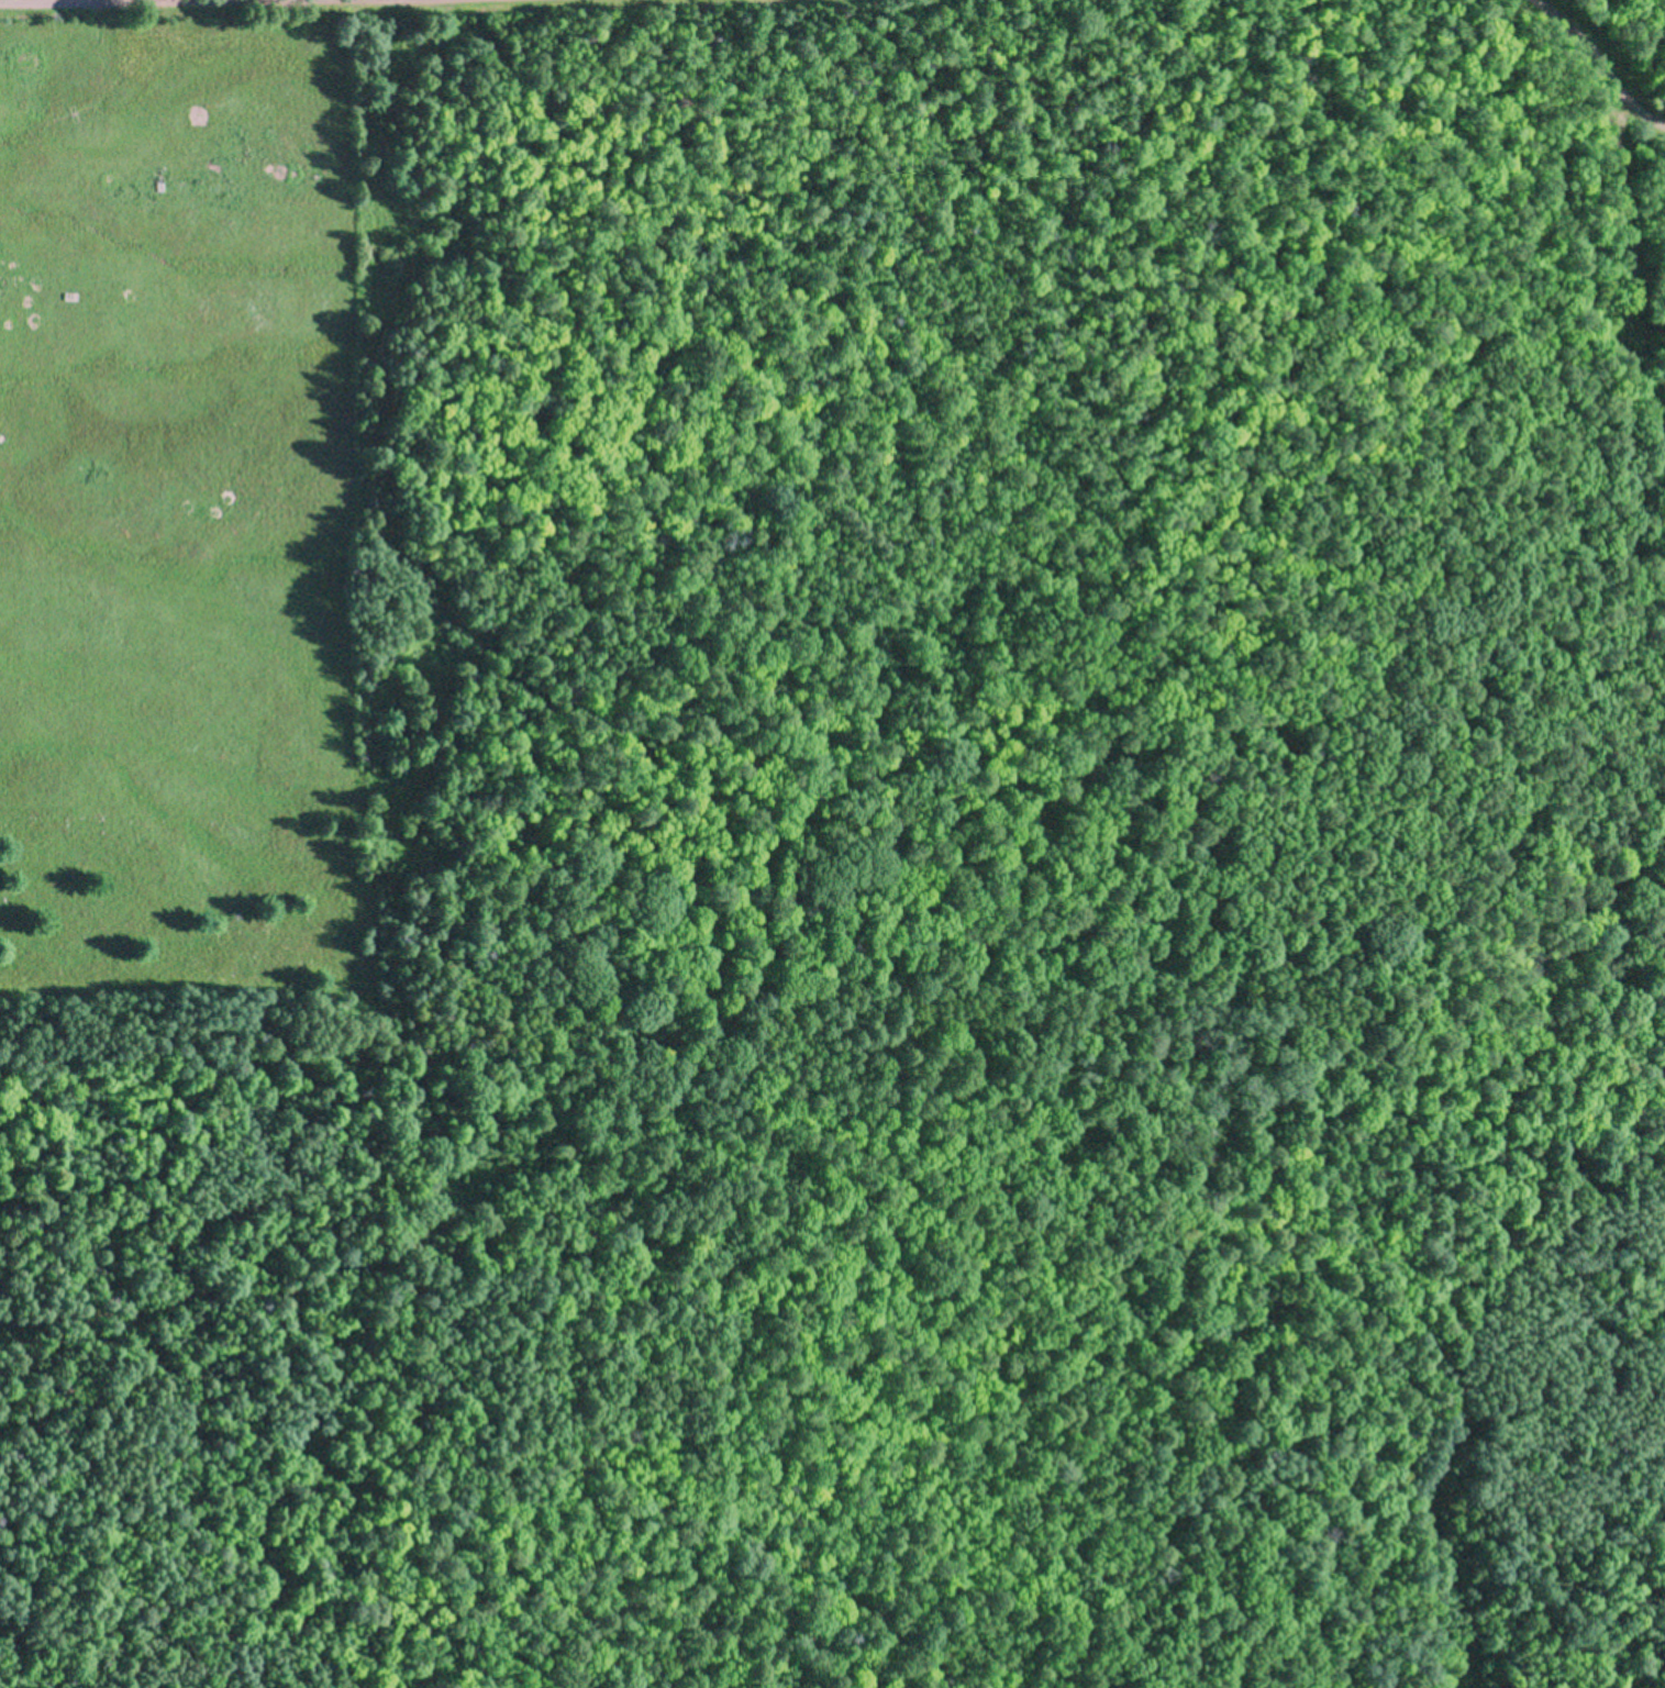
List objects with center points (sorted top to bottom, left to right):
road: (145, 3)
road: (1603, 64)

